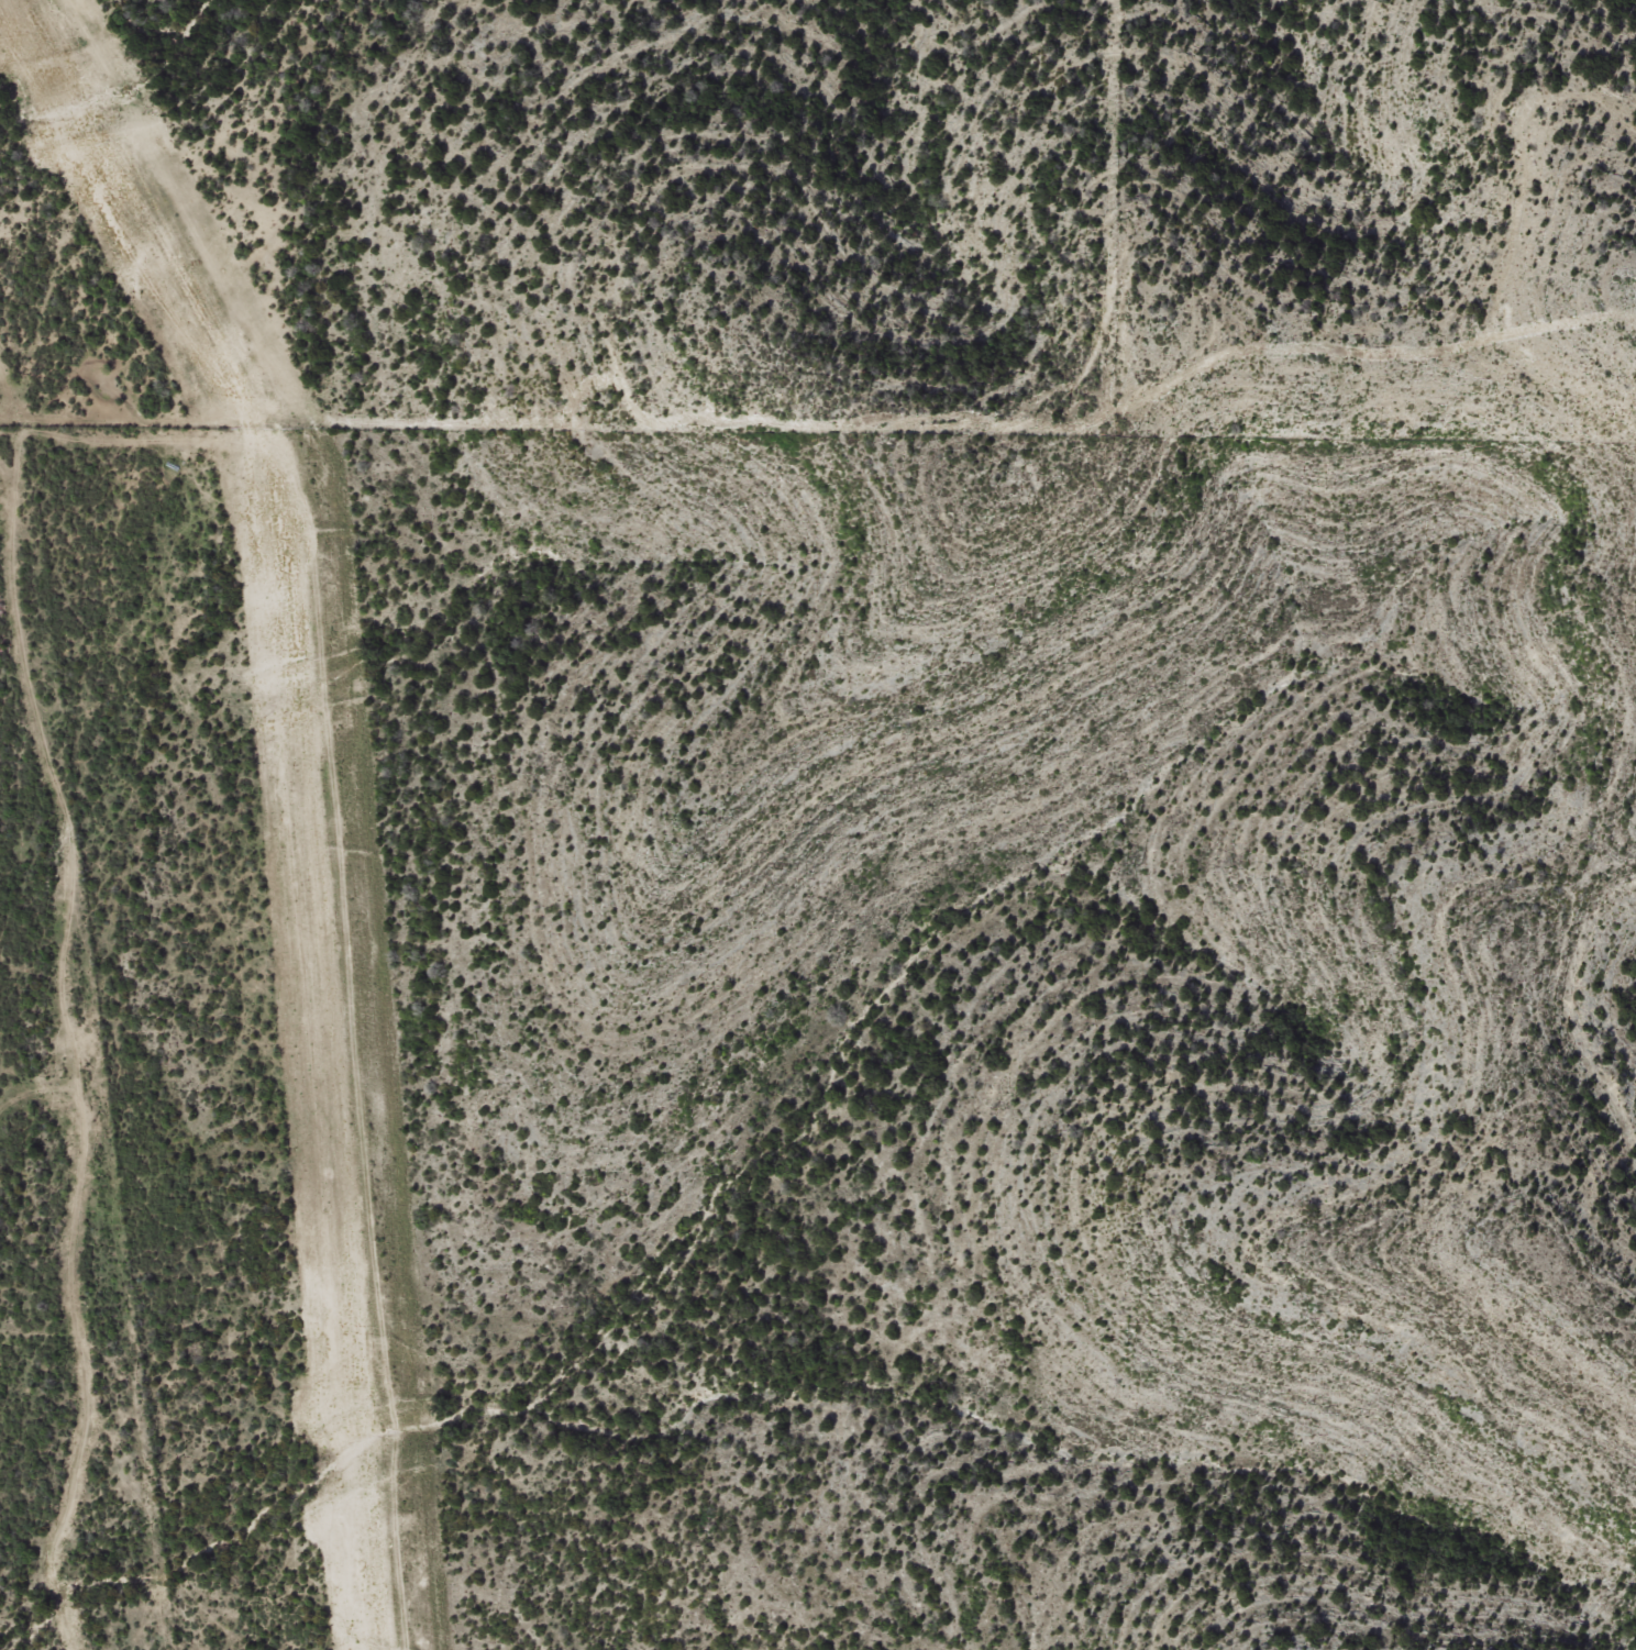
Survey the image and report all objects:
road: (86, 1452)

